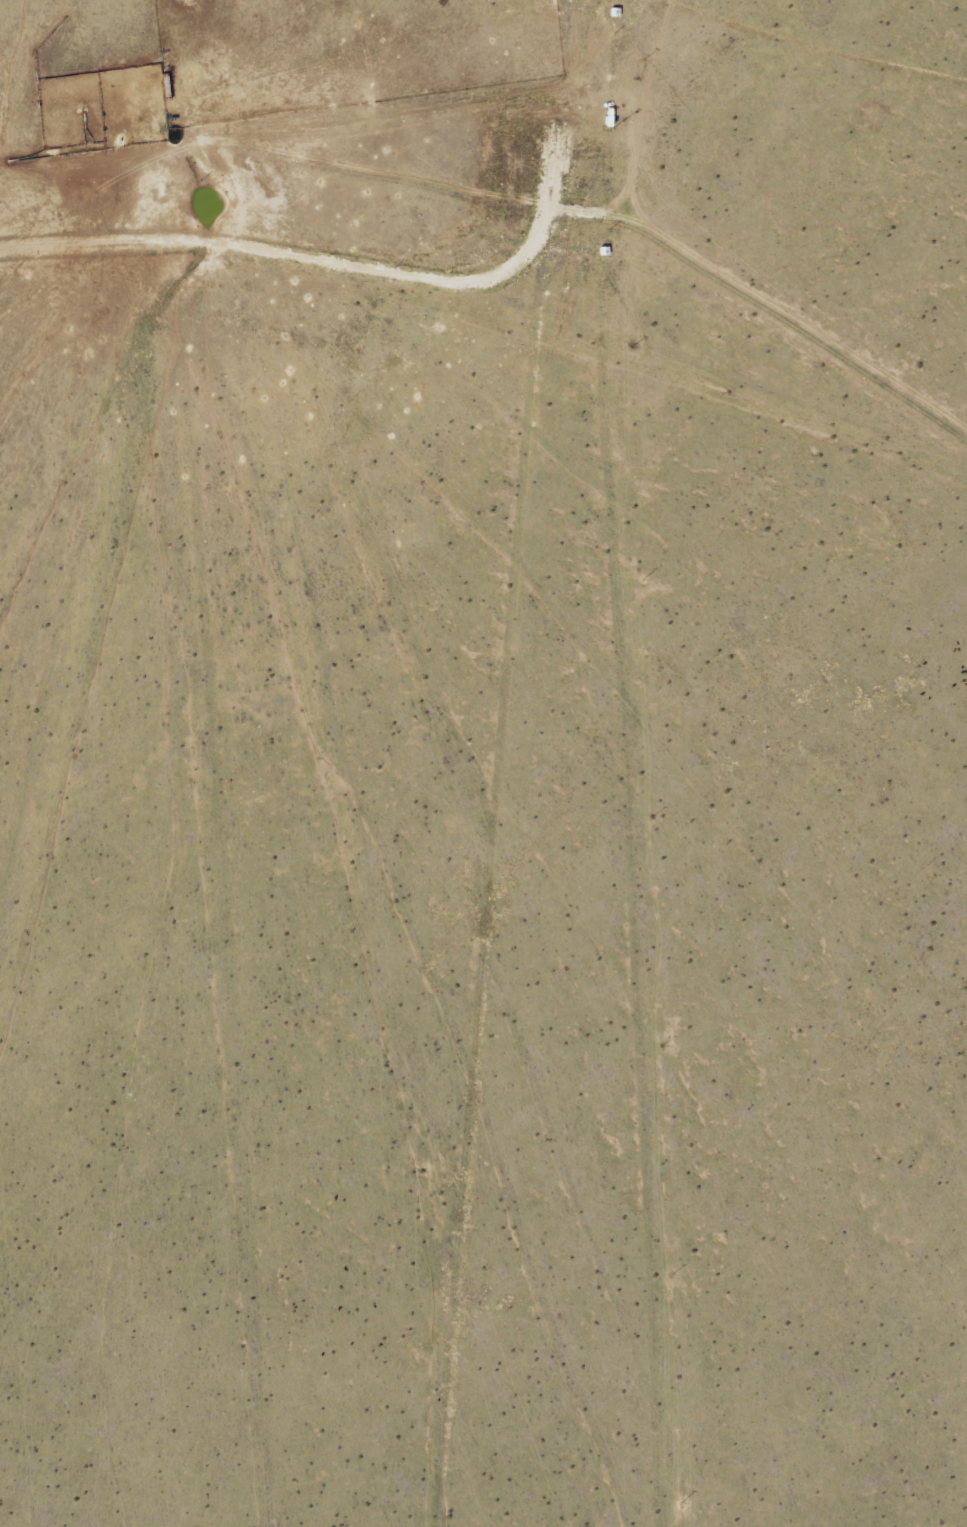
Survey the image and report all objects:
road: (12, 143)
road: (328, 195)
road: (637, 725)

